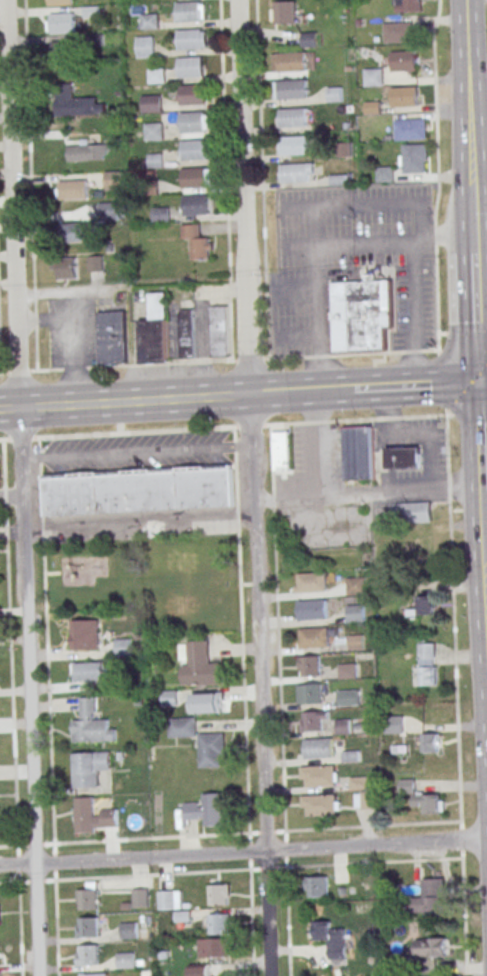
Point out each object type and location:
building: (59, 2)
building: (407, 5)
building: (189, 11)
building: (283, 12)
building: (149, 20)
building: (61, 22)
building: (399, 32)
building: (191, 39)
building: (308, 39)
building: (145, 46)
building: (60, 50)
building: (289, 61)
building: (191, 66)
building: (389, 68)
road: (466, 74)
building: (156, 75)
building: (292, 88)
building: (193, 94)
building: (407, 96)
building: (75, 102)
building: (151, 103)
building: (294, 117)
building: (192, 122)
building: (410, 129)
building: (153, 131)
building: (293, 144)
road: (478, 148)
building: (194, 149)
building: (88, 152)
building: (414, 158)
building: (154, 160)
building: (295, 173)
building: (384, 174)
building: (194, 177)
building: (114, 180)
road: (30, 185)
building: (73, 189)
road: (479, 197)
road: (471, 199)
road: (13, 202)
road: (367, 203)
building: (196, 204)
building: (107, 210)
building: (160, 214)
road: (479, 228)
building: (78, 231)
road: (446, 236)
building: (196, 242)
road: (366, 245)
building: (95, 263)
building: (64, 268)
road: (480, 297)
building: (361, 315)
road: (474, 315)
building: (155, 331)
building: (219, 331)
parking lot: (73, 332)
building: (186, 333)
building: (112, 336)
road: (218, 360)
road: (482, 381)
traffic signals: (477, 382)
road: (415, 385)
road: (300, 391)
road: (124, 401)
road: (243, 426)
road: (411, 433)
road: (478, 436)
road: (483, 443)
building: (281, 450)
road: (136, 453)
building: (358, 453)
building: (402, 457)
road: (318, 479)
building: (0, 486)
road: (251, 488)
building: (138, 489)
road: (399, 491)
road: (483, 491)
road: (11, 497)
building: (412, 512)
road: (139, 519)
road: (481, 522)
road: (483, 562)
road: (485, 572)
park: (148, 579)
building: (312, 581)
building: (355, 585)
building: (422, 606)
building: (313, 609)
building: (355, 613)
road: (453, 617)
road: (485, 620)
building: (84, 634)
building: (314, 636)
building: (355, 642)
building: (122, 646)
road: (10, 650)
building: (201, 665)
building: (309, 665)
building: (426, 666)
building: (87, 671)
building: (347, 671)
road: (28, 690)
building: (311, 692)
building: (169, 697)
building: (348, 697)
building: (207, 701)
building: (312, 720)
building: (394, 724)
building: (181, 726)
building: (342, 726)
building: (87, 728)
building: (212, 741)
building: (429, 742)
building: (318, 746)
building: (90, 766)
building: (320, 774)
building: (358, 782)
building: (405, 785)
building: (363, 800)
building: (430, 802)
building: (321, 804)
building: (201, 810)
building: (92, 815)
road: (243, 853)
road: (338, 864)
road: (157, 874)
building: (316, 886)
building: (219, 894)
building: (88, 897)
building: (139, 897)
building: (431, 898)
building: (169, 899)
road: (464, 917)
road: (20, 919)
building: (219, 921)
building: (87, 927)
building: (128, 930)
building: (336, 941)
building: (214, 947)
building: (429, 947)
building: (87, 954)
building: (125, 960)
building: (202, 970)
building: (94, 974)

